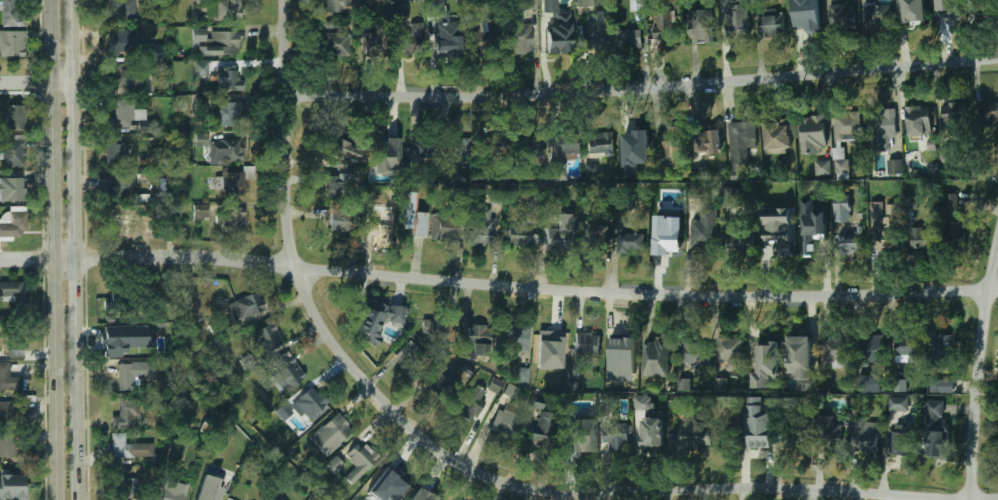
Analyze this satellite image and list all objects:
building: (585, 3)
building: (529, 4)
building: (635, 5)
building: (337, 6)
building: (984, 7)
building: (121, 9)
building: (228, 9)
building: (949, 9)
building: (913, 11)
building: (11, 13)
building: (875, 16)
building: (843, 17)
building: (737, 20)
building: (808, 22)
building: (598, 23)
building: (700, 25)
building: (771, 25)
building: (666, 27)
building: (556, 28)
building: (198, 34)
building: (517, 35)
building: (413, 37)
building: (628, 40)
building: (227, 41)
building: (376, 41)
building: (446, 41)
building: (11, 43)
building: (129, 44)
building: (335, 44)
road: (535, 56)
road: (542, 56)
building: (126, 77)
building: (227, 79)
road: (39, 81)
road: (642, 88)
building: (953, 112)
building: (120, 115)
building: (224, 115)
building: (987, 115)
building: (15, 118)
building: (917, 121)
building: (145, 126)
building: (846, 128)
building: (811, 130)
building: (882, 130)
road: (286, 132)
building: (778, 135)
building: (706, 141)
building: (202, 142)
building: (635, 142)
building: (599, 143)
building: (670, 144)
building: (740, 144)
building: (489, 146)
building: (533, 146)
building: (343, 150)
building: (566, 150)
building: (114, 151)
building: (421, 151)
building: (13, 152)
building: (221, 152)
building: (458, 154)
building: (385, 156)
building: (843, 163)
building: (894, 166)
building: (823, 167)
building: (558, 172)
building: (346, 179)
building: (329, 185)
building: (229, 186)
building: (119, 187)
building: (12, 189)
building: (733, 197)
building: (951, 200)
building: (533, 202)
building: (912, 203)
building: (550, 207)
building: (876, 207)
building: (406, 210)
building: (842, 212)
building: (199, 213)
building: (224, 218)
building: (337, 219)
building: (126, 223)
building: (381, 223)
building: (14, 224)
building: (418, 224)
building: (484, 225)
building: (887, 226)
building: (703, 227)
building: (443, 228)
building: (955, 234)
building: (518, 236)
building: (596, 236)
building: (558, 238)
building: (922, 238)
building: (811, 240)
building: (630, 243)
building: (736, 243)
building: (777, 243)
building: (850, 244)
building: (666, 247)
road: (49, 249)
road: (79, 249)
road: (498, 284)
building: (13, 291)
building: (245, 306)
building: (377, 324)
building: (432, 331)
building: (474, 334)
building: (268, 338)
building: (134, 340)
building: (514, 341)
building: (586, 344)
building: (904, 346)
building: (15, 347)
building: (870, 348)
building: (550, 349)
building: (690, 350)
building: (725, 351)
building: (942, 351)
building: (835, 352)
building: (409, 355)
building: (656, 358)
building: (621, 359)
building: (801, 361)
building: (765, 365)
road: (980, 368)
building: (288, 370)
building: (132, 374)
building: (521, 375)
building: (3, 376)
building: (620, 384)
building: (869, 384)
building: (494, 385)
building: (720, 385)
building: (900, 385)
building: (942, 385)
building: (438, 390)
building: (309, 403)
building: (471, 403)
building: (643, 403)
building: (898, 403)
building: (284, 411)
building: (6, 414)
building: (122, 417)
building: (503, 422)
building: (759, 425)
building: (935, 428)
building: (652, 432)
building: (826, 432)
building: (330, 434)
building: (538, 434)
building: (865, 434)
building: (614, 436)
building: (694, 436)
building: (997, 436)
building: (790, 437)
building: (575, 440)
building: (898, 442)
building: (8, 446)
building: (127, 447)
building: (364, 455)
building: (336, 464)
building: (215, 470)
building: (393, 481)
building: (125, 487)
building: (9, 488)
building: (173, 491)
road: (595, 493)
building: (365, 494)
flagpole: (472, 497)
building: (420, 498)
building: (269, 499)

